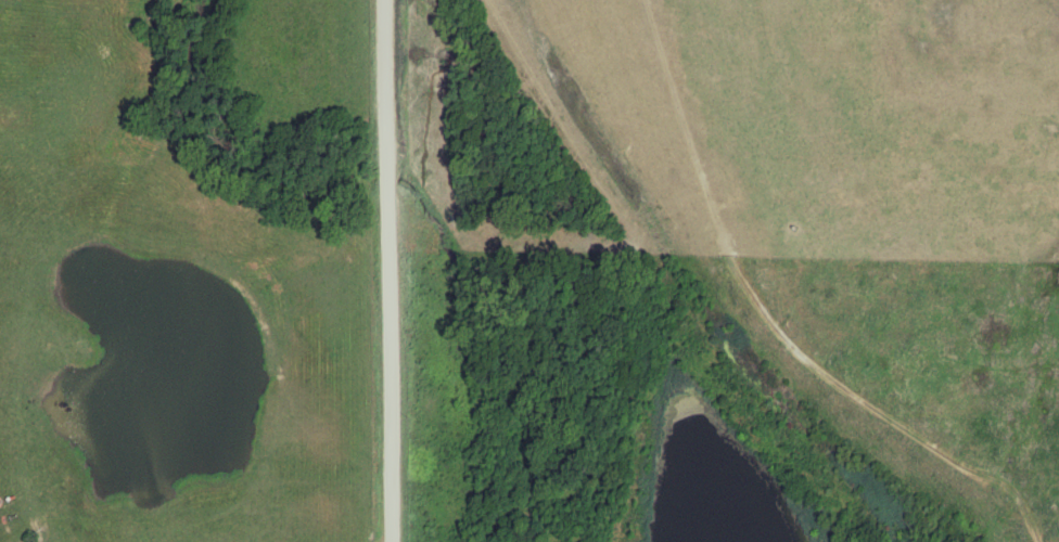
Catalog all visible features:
road: (391, 270)

